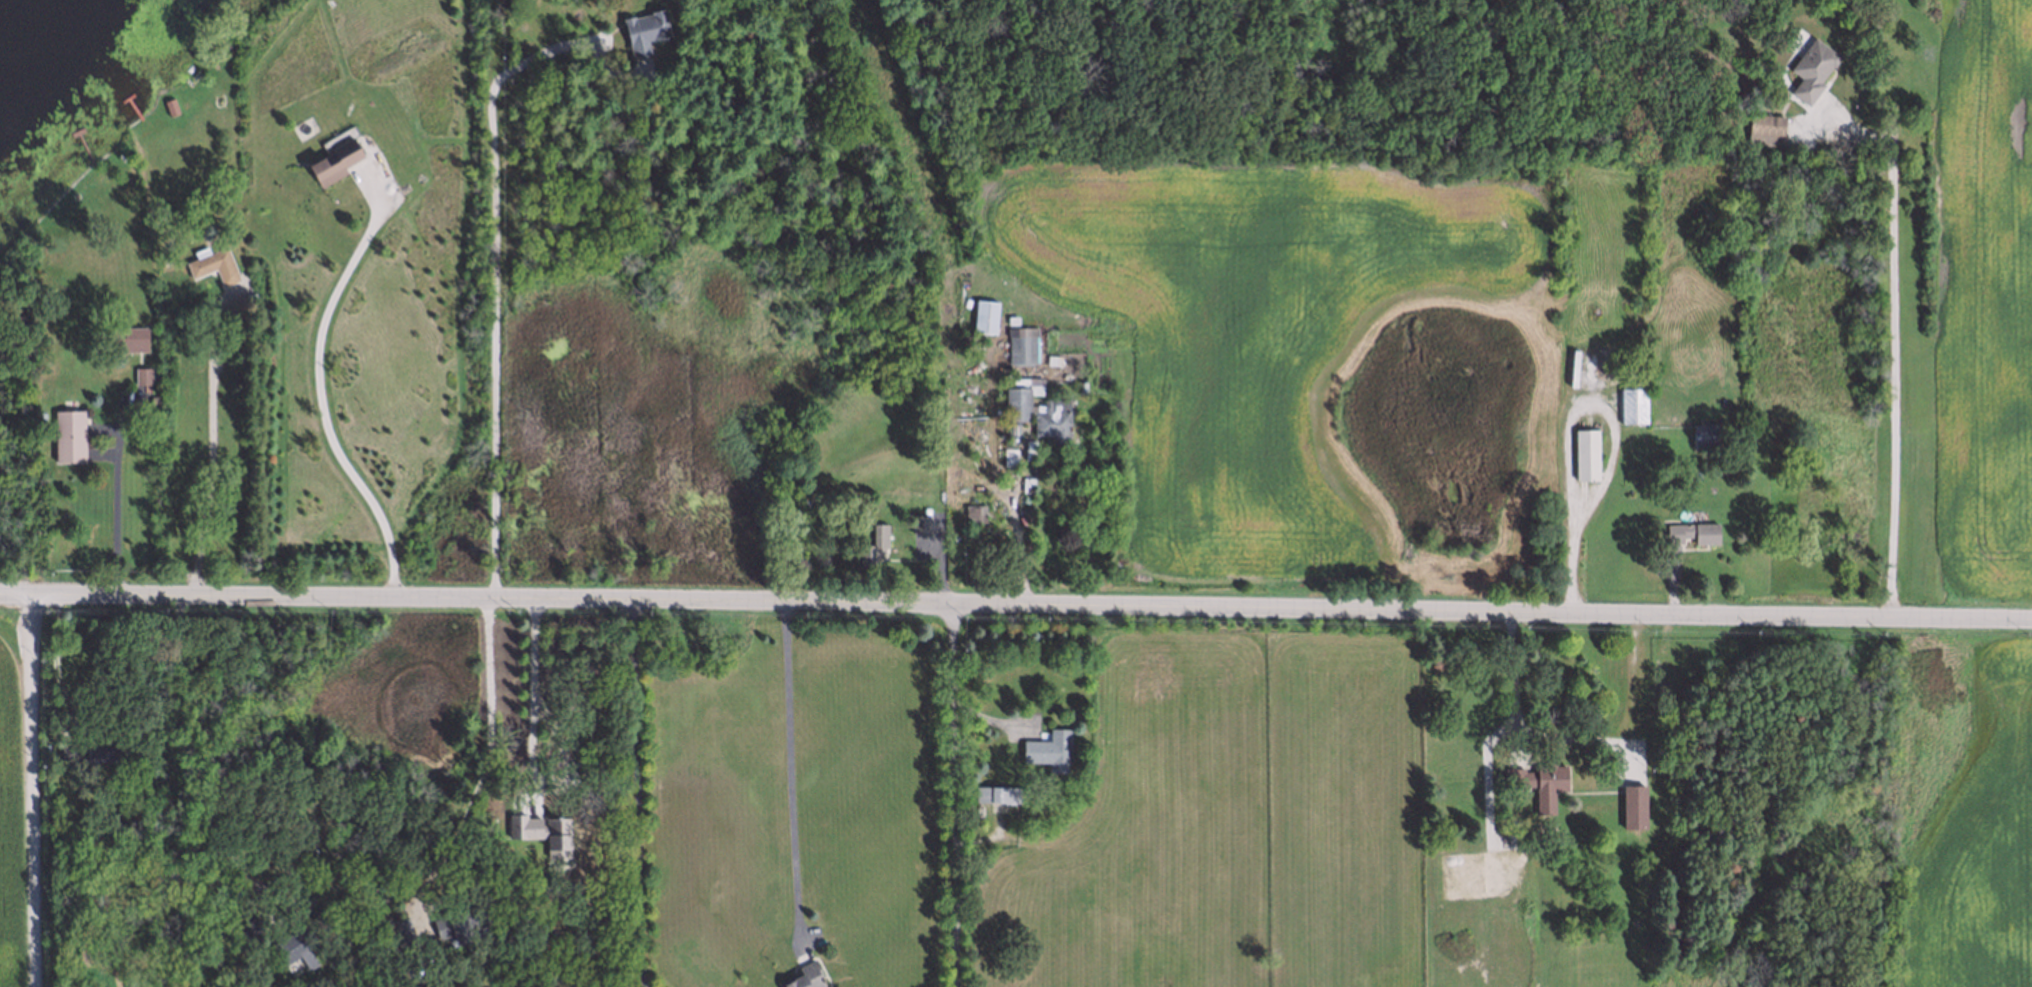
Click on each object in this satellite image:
building: (641, 32)
building: (1810, 68)
building: (164, 106)
building: (1763, 128)
building: (333, 161)
building: (212, 264)
road: (491, 285)
building: (983, 316)
building: (126, 337)
building: (1019, 345)
road: (1896, 351)
building: (141, 375)
road: (319, 398)
building: (1014, 401)
building: (1631, 404)
building: (1049, 417)
building: (64, 434)
building: (1700, 435)
road: (208, 452)
building: (1584, 453)
building: (972, 511)
road: (113, 519)
building: (918, 522)
building: (1689, 532)
building: (871, 544)
road: (1015, 611)
road: (52, 653)
road: (532, 702)
road: (1573, 739)
building: (1046, 747)
building: (99, 748)
building: (67, 749)
road: (181, 767)
road: (485, 767)
road: (790, 770)
building: (1536, 777)
building: (995, 792)
road: (27, 794)
road: (637, 797)
road: (952, 798)
building: (1631, 805)
building: (113, 821)
building: (320, 915)
building: (456, 921)
building: (399, 932)
building: (293, 943)
building: (801, 976)
building: (432, 983)

